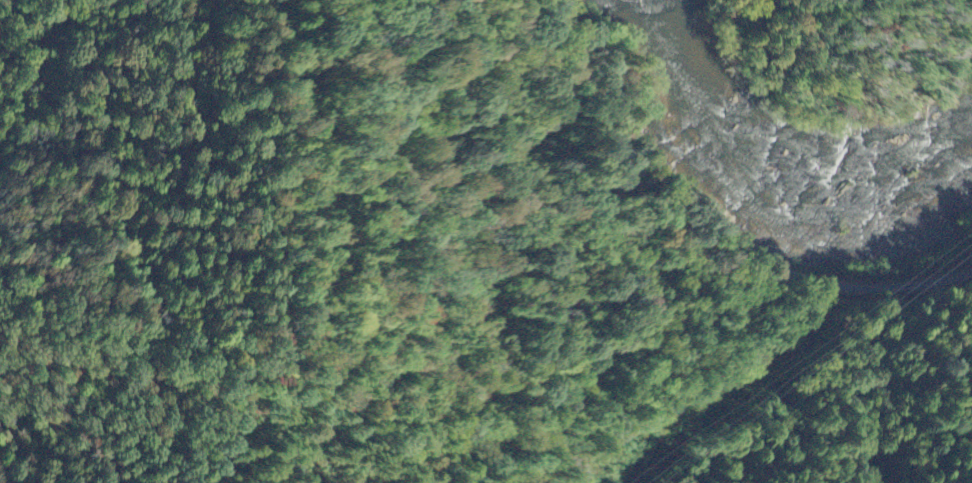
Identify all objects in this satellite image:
river: (787, 147)
railway: (710, 230)
power tower: (911, 258)

